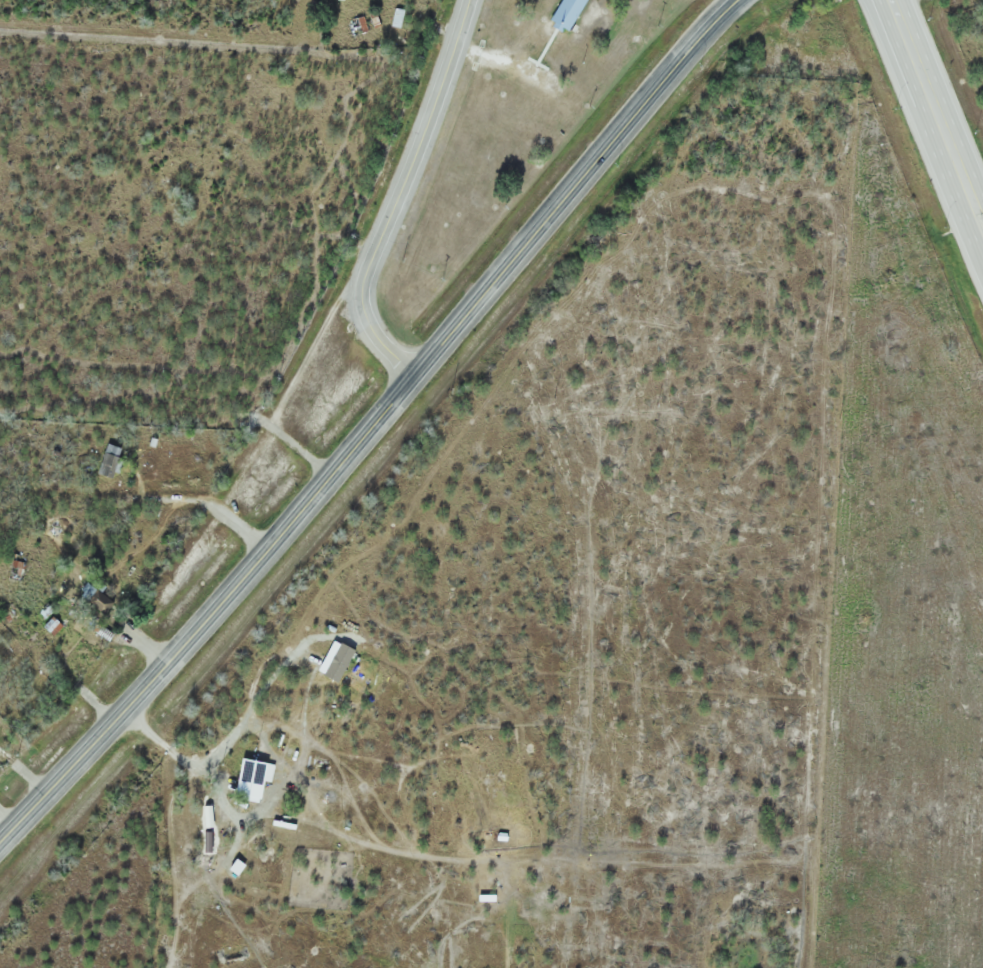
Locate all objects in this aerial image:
building: (564, 13)
building: (358, 25)
road: (916, 62)
road: (967, 156)
road: (572, 183)
road: (397, 192)
road: (955, 193)
railway: (381, 454)
building: (106, 460)
building: (97, 601)
road: (204, 606)
building: (50, 626)
building: (248, 779)
building: (216, 808)

